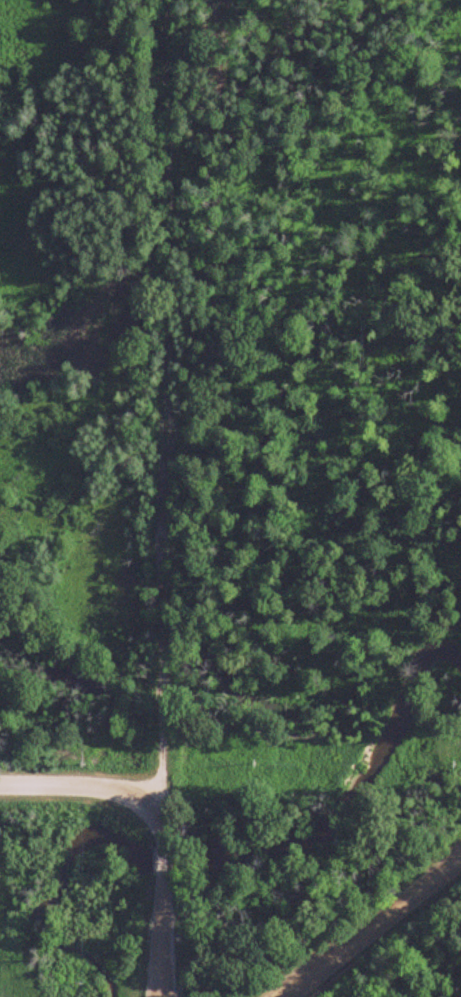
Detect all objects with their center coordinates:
road: (159, 823)
road: (371, 927)

